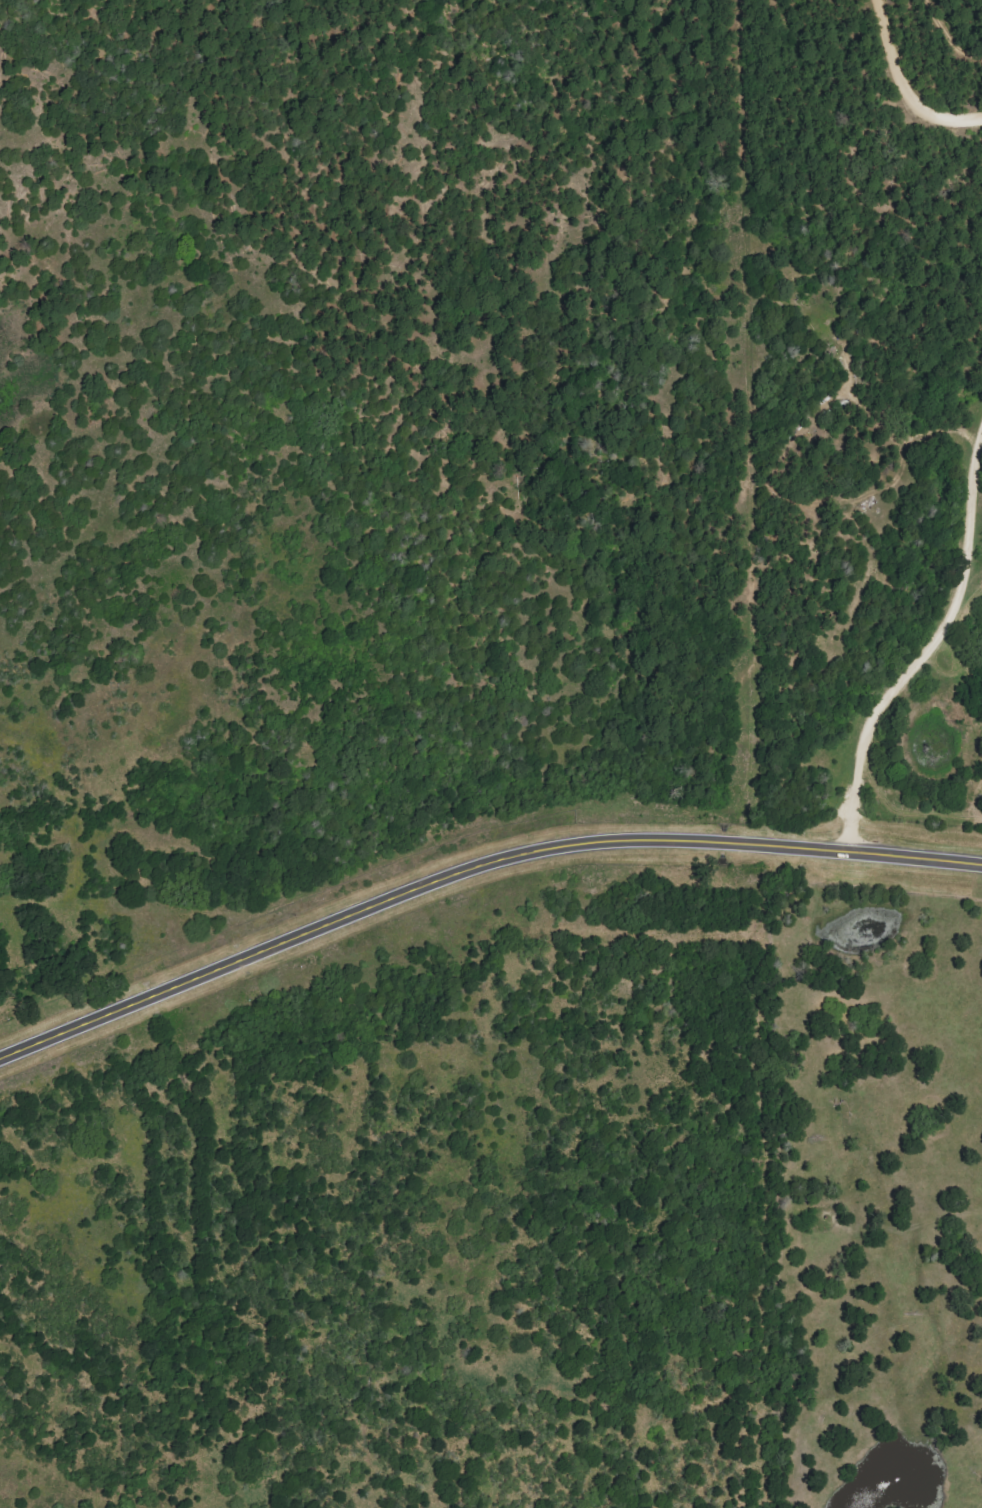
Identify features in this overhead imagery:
road: (907, 83)
road: (828, 290)
road: (924, 647)
road: (474, 860)

